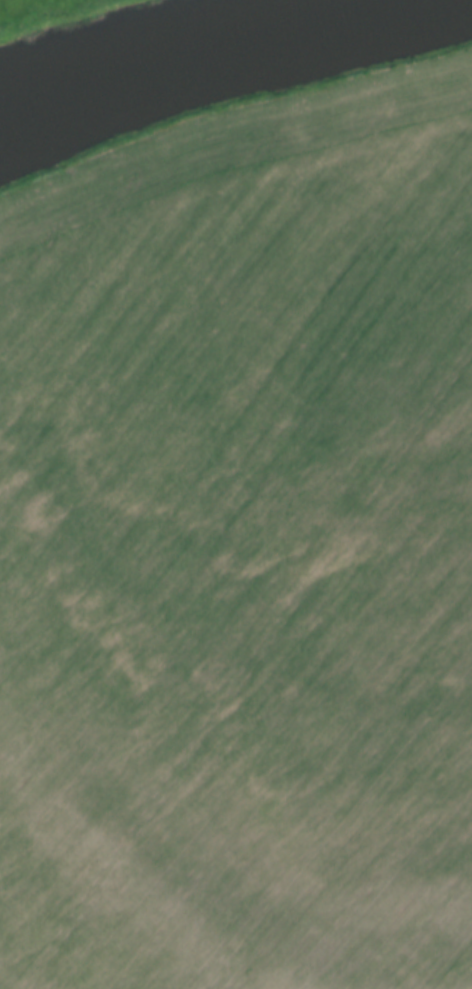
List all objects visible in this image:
river: (211, 46)

